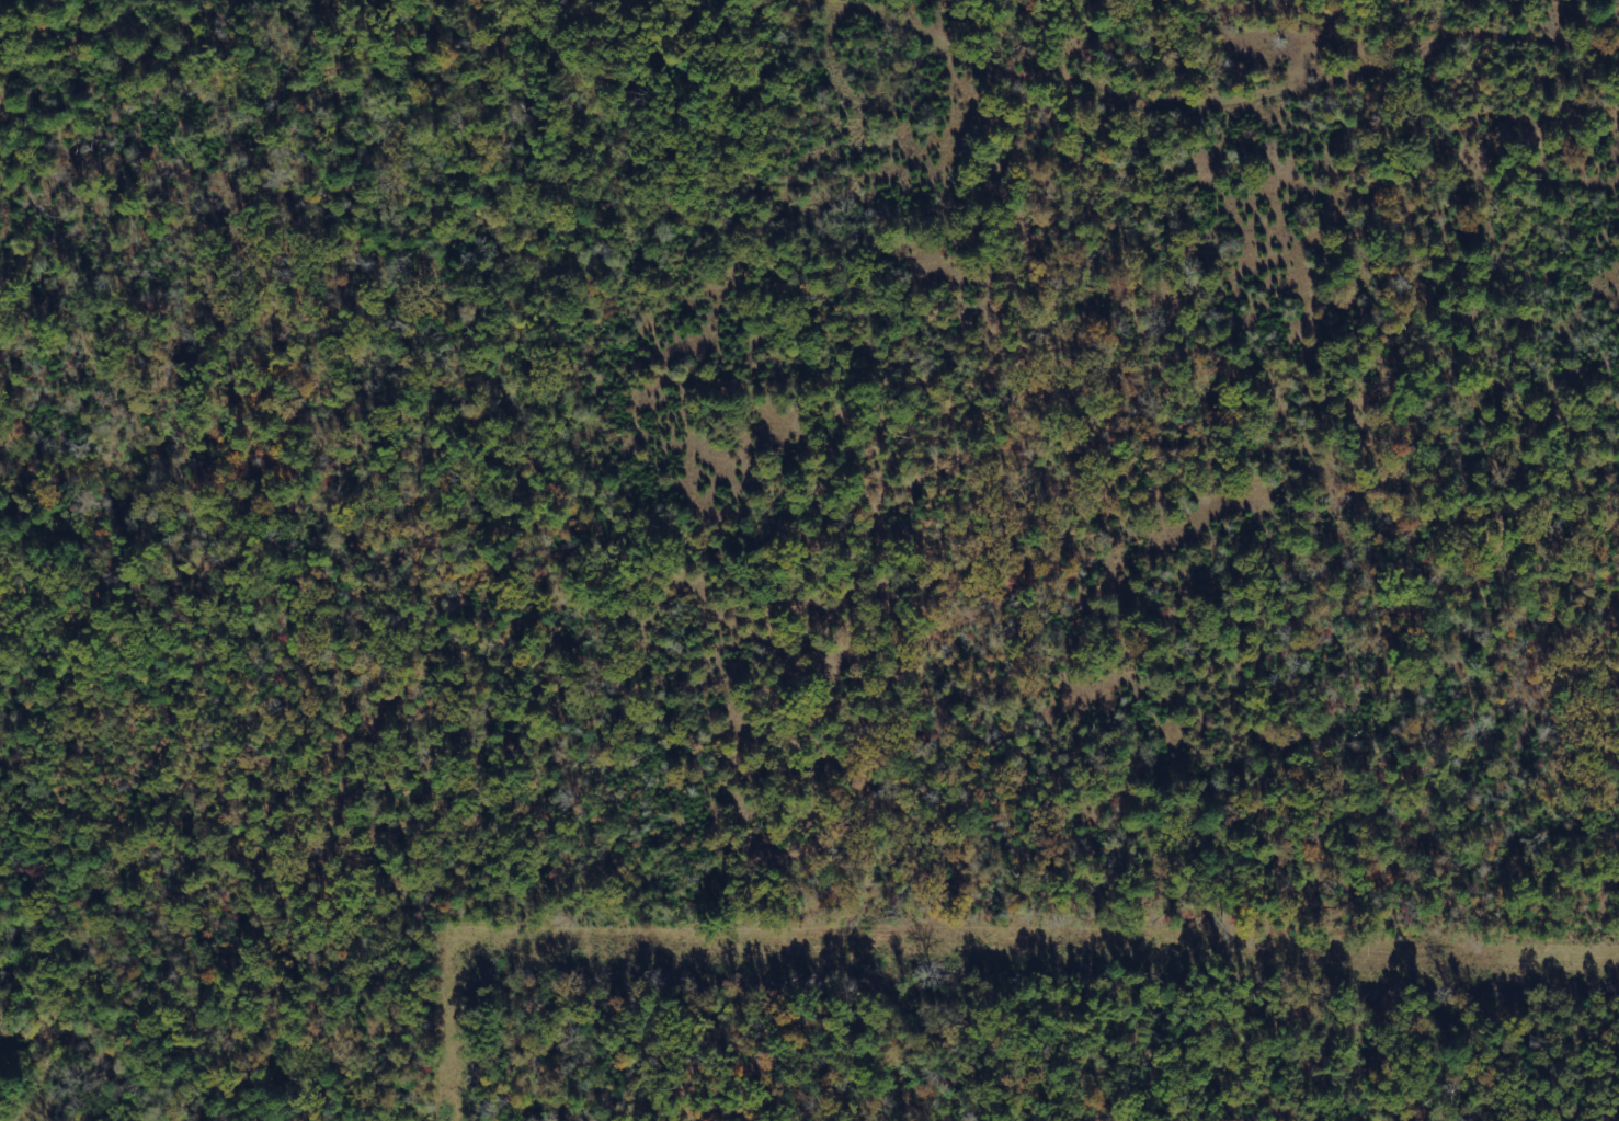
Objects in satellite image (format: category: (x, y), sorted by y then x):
road: (332, 0)
road: (945, 0)

